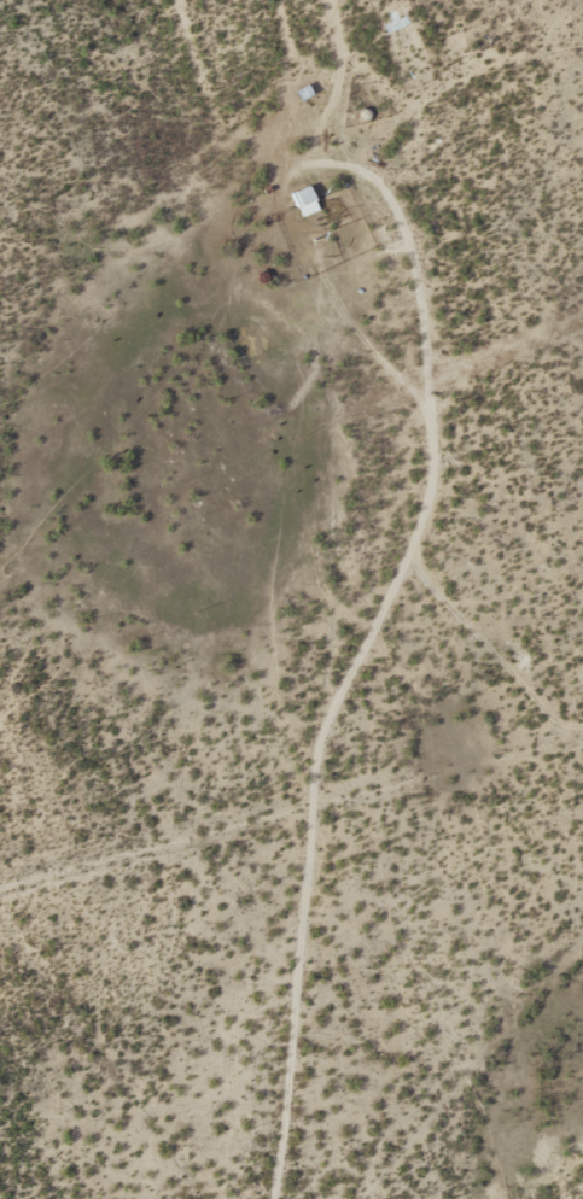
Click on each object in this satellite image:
road: (401, 596)

